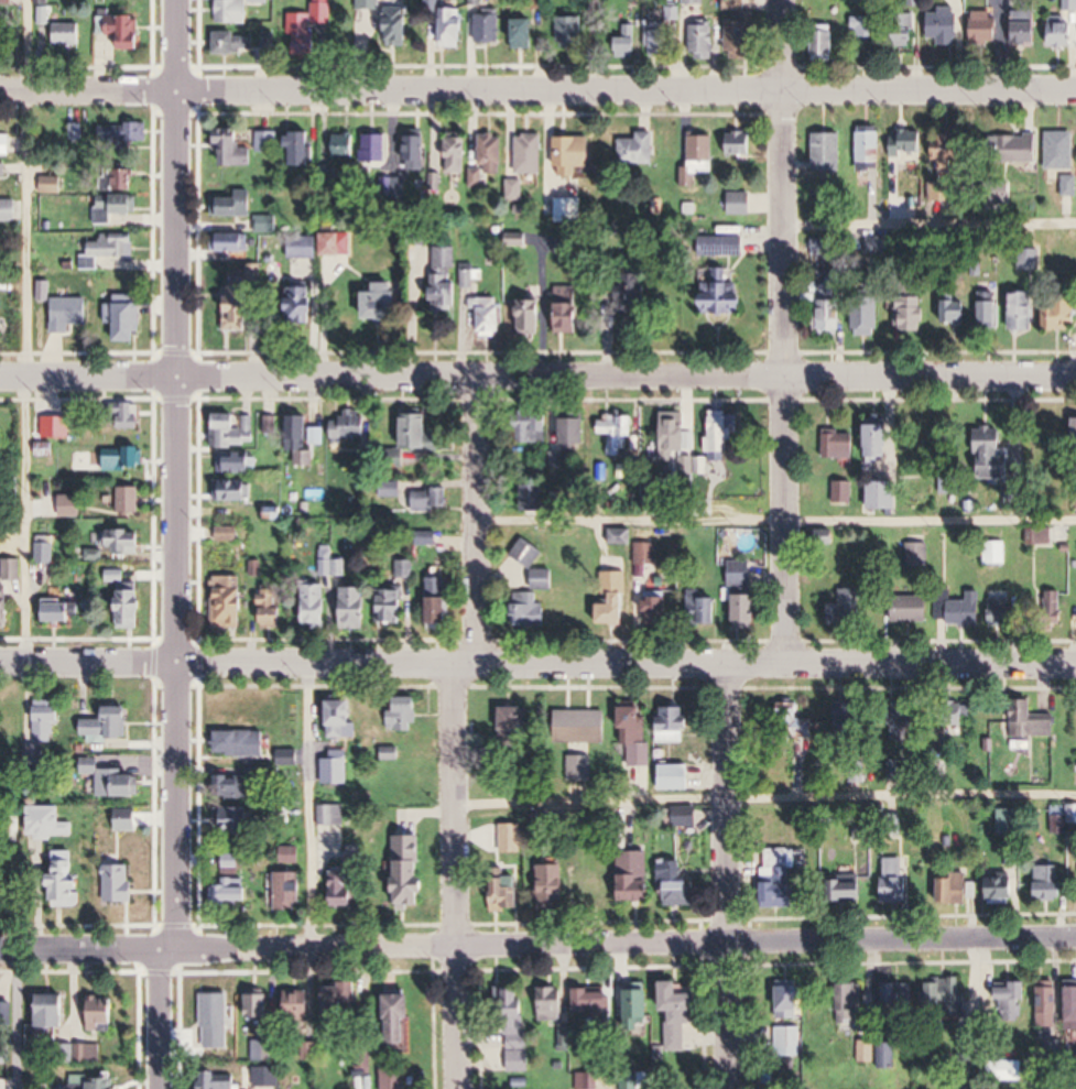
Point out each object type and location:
building: (41, 1)
building: (694, 2)
building: (366, 4)
building: (736, 4)
building: (1069, 4)
building: (432, 7)
building: (236, 11)
building: (323, 18)
building: (399, 26)
building: (944, 26)
building: (986, 26)
building: (1026, 26)
building: (455, 28)
building: (866, 28)
building: (488, 29)
building: (572, 31)
building: (121, 32)
building: (1062, 32)
building: (525, 33)
building: (662, 33)
building: (905, 34)
building: (66, 35)
building: (741, 36)
building: (704, 41)
building: (237, 43)
building: (627, 44)
building: (825, 44)
road: (537, 88)
building: (122, 134)
building: (233, 141)
building: (267, 142)
building: (910, 143)
building: (741, 144)
building: (9, 145)
building: (345, 146)
building: (950, 148)
building: (302, 149)
building: (376, 149)
building: (871, 149)
building: (1014, 149)
building: (639, 150)
building: (1061, 152)
building: (417, 153)
building: (829, 153)
building: (530, 154)
building: (458, 155)
building: (567, 156)
building: (489, 159)
building: (700, 160)
building: (3, 172)
building: (122, 181)
building: (1068, 186)
building: (515, 190)
building: (941, 193)
building: (739, 204)
building: (126, 205)
building: (233, 207)
building: (9, 210)
building: (568, 210)
road: (931, 229)
building: (230, 243)
building: (333, 243)
building: (112, 246)
building: (302, 247)
building: (722, 247)
building: (822, 248)
building: (1031, 260)
building: (450, 279)
building: (634, 293)
building: (726, 296)
building: (380, 302)
building: (304, 306)
building: (240, 309)
building: (956, 312)
building: (1024, 312)
building: (989, 313)
building: (68, 315)
building: (489, 315)
building: (830, 315)
building: (911, 315)
building: (1063, 315)
building: (533, 317)
building: (127, 318)
building: (572, 318)
building: (867, 318)
road: (28, 333)
road: (784, 336)
road: (537, 374)
building: (128, 417)
building: (271, 426)
building: (535, 427)
building: (351, 428)
building: (44, 431)
building: (233, 432)
building: (576, 432)
building: (617, 433)
building: (720, 433)
building: (421, 435)
building: (675, 437)
building: (304, 440)
building: (881, 442)
building: (840, 446)
building: (996, 453)
building: (124, 459)
building: (238, 464)
road: (177, 475)
building: (656, 490)
building: (845, 491)
building: (235, 492)
building: (884, 494)
building: (532, 497)
building: (435, 499)
building: (130, 501)
building: (70, 507)
road: (779, 522)
road: (481, 523)
building: (1041, 531)
building: (228, 535)
building: (623, 536)
building: (425, 538)
building: (124, 542)
building: (45, 551)
building: (528, 553)
building: (646, 553)
building: (997, 553)
building: (330, 564)
building: (12, 570)
building: (740, 573)
building: (115, 577)
building: (543, 579)
building: (441, 602)
building: (6, 603)
building: (1054, 603)
building: (130, 606)
building: (316, 606)
building: (357, 607)
building: (394, 607)
building: (229, 608)
building: (846, 608)
building: (703, 609)
building: (910, 609)
building: (959, 609)
building: (271, 610)
building: (616, 610)
building: (659, 610)
building: (530, 611)
building: (749, 611)
building: (61, 612)
building: (1002, 612)
road: (537, 671)
building: (404, 716)
building: (344, 718)
building: (849, 718)
building: (46, 719)
building: (1033, 721)
building: (795, 722)
building: (673, 725)
building: (109, 726)
building: (514, 726)
building: (579, 727)
building: (240, 744)
building: (640, 754)
building: (290, 759)
building: (336, 769)
building: (675, 777)
building: (115, 781)
building: (235, 787)
road: (764, 801)
road: (306, 808)
building: (330, 816)
building: (1072, 816)
building: (687, 817)
building: (127, 820)
building: (237, 821)
building: (1009, 823)
building: (50, 824)
building: (229, 861)
building: (410, 873)
building: (638, 876)
building: (67, 880)
road: (455, 880)
road: (729, 880)
building: (778, 881)
building: (1006, 882)
building: (120, 884)
building: (346, 884)
building: (1050, 885)
building: (676, 886)
building: (553, 889)
building: (289, 891)
building: (895, 891)
building: (850, 892)
building: (954, 892)
building: (596, 893)
building: (502, 894)
building: (236, 895)
road: (537, 946)
building: (946, 995)
building: (851, 999)
building: (900, 1000)
building: (340, 1001)
building: (681, 1001)
building: (594, 1002)
building: (790, 1003)
building: (1010, 1003)
building: (507, 1004)
building: (551, 1005)
building: (298, 1008)
building: (258, 1009)
building: (638, 1009)
building: (1048, 1009)
building: (1073, 1010)
building: (53, 1012)
building: (102, 1015)
road: (20, 1019)
road: (163, 1020)
building: (402, 1020)
building: (216, 1022)
building: (786, 1042)
building: (267, 1052)
building: (519, 1053)
building: (86, 1054)
building: (885, 1056)
building: (1007, 1070)
building: (634, 1077)
building: (268, 1078)
building: (393, 1079)
building: (587, 1079)
building: (91, 1082)
building: (226, 1083)

